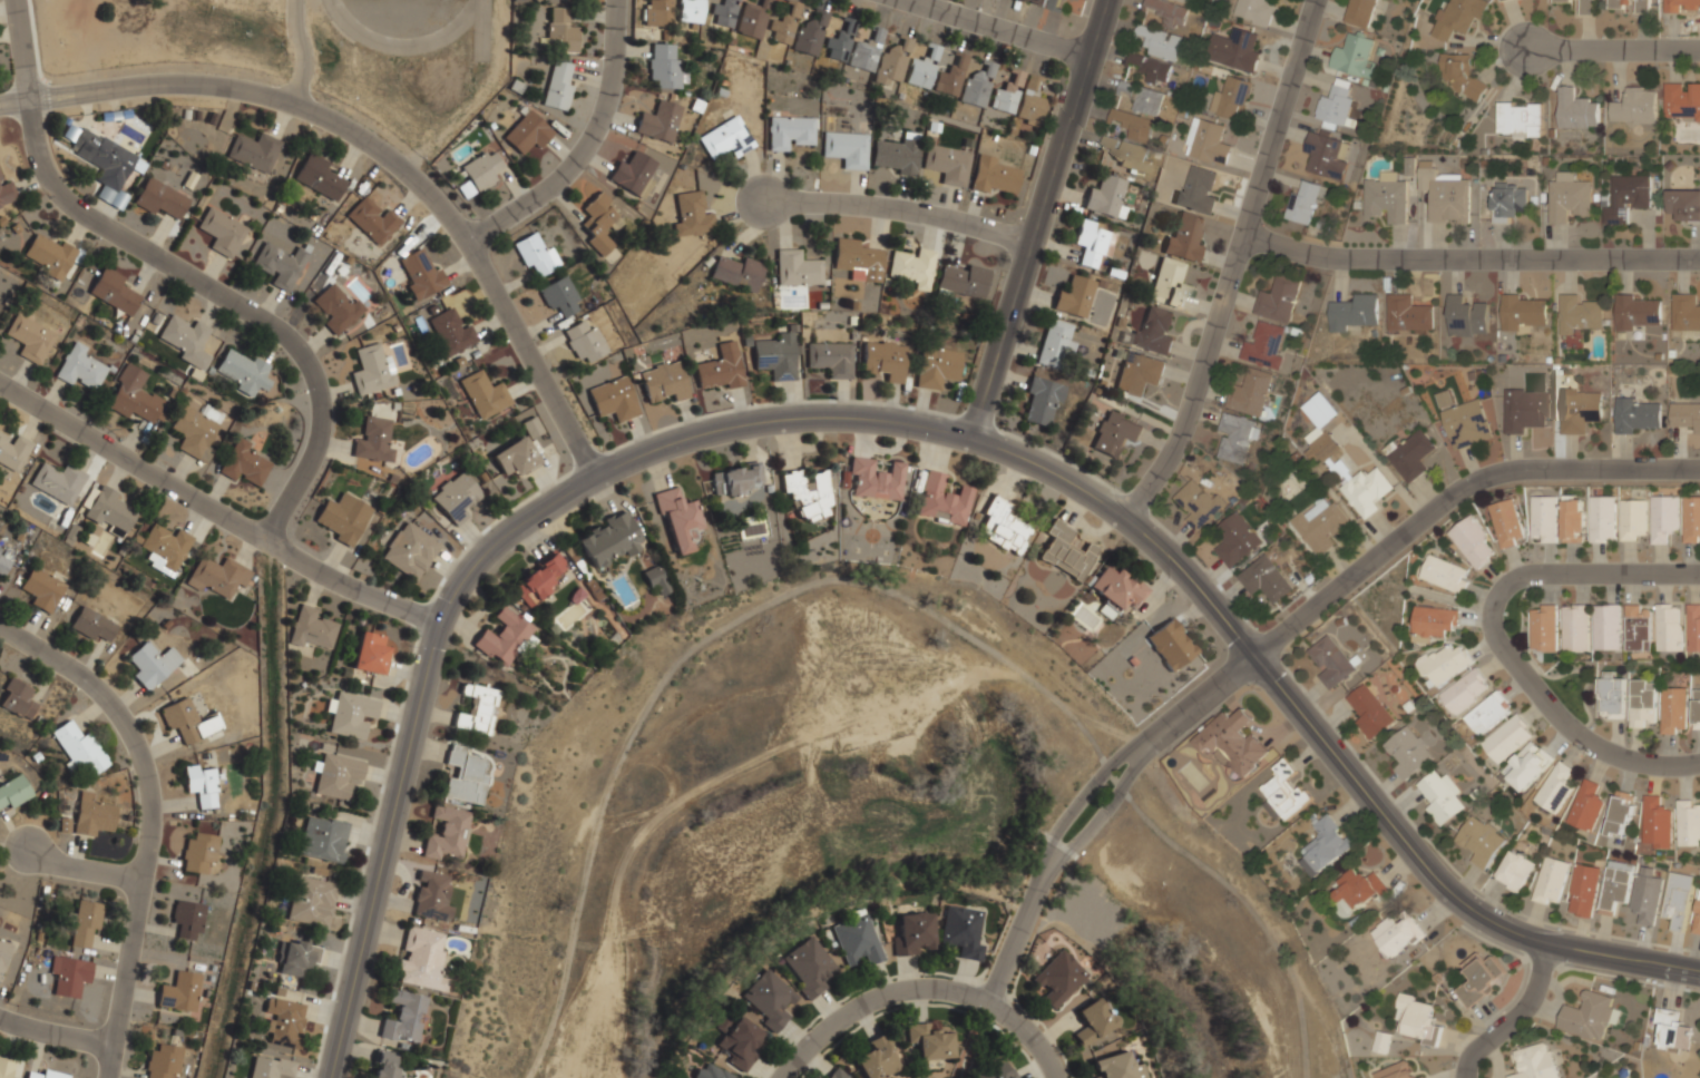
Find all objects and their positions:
building: (558, 0)
building: (1188, 1)
building: (1040, 2)
building: (1055, 4)
building: (1626, 6)
building: (1682, 7)
building: (1585, 9)
building: (691, 11)
building: (1256, 11)
building: (656, 12)
building: (1359, 12)
building: (724, 13)
park: (402, 14)
building: (1458, 17)
building: (750, 20)
building: (784, 24)
road: (1004, 29)
building: (1164, 29)
track: (355, 30)
building: (560, 31)
building: (811, 33)
building: (839, 43)
road: (301, 49)
road: (1612, 49)
building: (1239, 50)
building: (866, 51)
building: (1354, 55)
building: (892, 62)
building: (664, 66)
building: (1151, 67)
building: (920, 72)
building: (1460, 75)
building: (951, 77)
building: (559, 86)
building: (976, 87)
building: (1007, 92)
building: (1143, 97)
building: (1231, 99)
building: (1682, 100)
building: (1030, 101)
building: (1337, 106)
building: (1634, 106)
building: (1576, 109)
building: (1520, 119)
building: (658, 121)
building: (1134, 126)
building: (790, 131)
building: (69, 133)
building: (527, 133)
building: (726, 138)
building: (1209, 141)
road: (584, 144)
road: (381, 148)
building: (847, 149)
building: (254, 151)
building: (1126, 154)
building: (897, 155)
building: (1325, 155)
building: (102, 158)
building: (948, 164)
building: (481, 170)
building: (634, 173)
building: (996, 176)
building: (319, 177)
building: (1198, 190)
building: (7, 193)
building: (1445, 194)
building: (1567, 196)
building: (1387, 197)
building: (160, 198)
building: (1106, 198)
building: (1628, 198)
building: (1305, 199)
building: (1507, 202)
building: (1684, 204)
building: (692, 213)
road: (899, 214)
road: (1037, 219)
building: (373, 220)
building: (600, 224)
building: (222, 232)
building: (1185, 237)
building: (1094, 243)
building: (535, 254)
building: (49, 255)
building: (857, 261)
road: (1468, 261)
road: (1232, 264)
building: (280, 265)
building: (912, 267)
building: (795, 269)
road: (188, 271)
building: (421, 274)
building: (737, 274)
building: (964, 281)
building: (1169, 285)
building: (113, 292)
building: (559, 296)
building: (1075, 297)
building: (1279, 298)
building: (0, 304)
building: (336, 308)
building: (1354, 312)
building: (1638, 312)
building: (1686, 312)
building: (1524, 313)
building: (1577, 314)
building: (1407, 315)
building: (1465, 316)
building: (450, 332)
building: (1154, 332)
building: (30, 337)
building: (186, 340)
building: (584, 341)
building: (1054, 343)
building: (1264, 345)
building: (776, 357)
building: (832, 359)
building: (885, 361)
building: (80, 367)
building: (937, 367)
building: (372, 370)
building: (721, 370)
building: (244, 372)
building: (1140, 372)
building: (664, 382)
building: (1251, 393)
building: (483, 394)
building: (135, 396)
building: (613, 400)
building: (1042, 402)
building: (1579, 406)
building: (1321, 410)
building: (1523, 410)
building: (1638, 414)
building: (1686, 414)
building: (1464, 422)
road: (905, 427)
building: (1115, 435)
building: (1237, 435)
building: (373, 440)
building: (1325, 448)
building: (12, 450)
building: (1410, 454)
building: (516, 457)
building: (243, 463)
building: (876, 479)
building: (735, 480)
building: (58, 482)
building: (1367, 492)
building: (808, 493)
building: (456, 497)
building: (942, 500)
building: (1199, 504)
road: (216, 507)
building: (109, 511)
building: (1664, 517)
building: (343, 518)
building: (677, 518)
building: (1544, 519)
building: (1573, 519)
building: (1602, 519)
building: (1692, 519)
building: (1633, 520)
building: (1506, 523)
building: (1321, 525)
building: (1003, 526)
building: (610, 539)
building: (1237, 540)
road: (1389, 540)
building: (1473, 542)
building: (165, 548)
building: (0, 550)
building: (410, 550)
building: (1065, 551)
building: (3, 567)
building: (1445, 574)
building: (218, 577)
building: (655, 579)
building: (1267, 579)
building: (537, 580)
building: (1117, 588)
building: (41, 590)
building: (1106, 609)
building: (1434, 621)
building: (92, 623)
building: (1605, 627)
building: (1669, 627)
building: (1575, 628)
building: (1638, 628)
building: (1693, 628)
building: (311, 629)
building: (1543, 629)
building: (504, 636)
road: (1496, 639)
road: (704, 640)
building: (1171, 645)
building: (370, 654)
building: (1331, 660)
building: (1443, 664)
building: (152, 665)
building: (1465, 690)
building: (1610, 695)
building: (16, 699)
building: (1640, 702)
building: (1697, 708)
building: (477, 709)
building: (1369, 710)
building: (1672, 710)
building: (1489, 713)
building: (351, 714)
building: (186, 723)
building: (1507, 739)
building: (1232, 741)
building: (78, 752)
building: (1408, 753)
building: (35, 757)
building: (1527, 766)
building: (338, 776)
building: (465, 776)
building: (203, 784)
building: (1555, 788)
building: (1284, 790)
building: (14, 792)
building: (1442, 796)
road: (1079, 797)
building: (1586, 806)
road: (1100, 813)
building: (1622, 814)
building: (90, 815)
road: (152, 819)
building: (1657, 823)
building: (1689, 823)
building: (62, 826)
building: (447, 834)
building: (322, 839)
building: (1481, 840)
building: (1325, 845)
building: (198, 854)
road: (82, 865)
building: (1515, 871)
building: (1551, 881)
building: (1615, 885)
building: (1357, 890)
building: (1584, 890)
building: (1647, 894)
building: (432, 895)
road: (1239, 900)
building: (1678, 900)
building: (311, 901)
building: (188, 918)
building: (1697, 919)
building: (81, 922)
building: (963, 932)
road: (1016, 932)
building: (913, 933)
building: (858, 940)
building: (4, 955)
building: (296, 958)
building: (421, 959)
building: (810, 967)
building: (69, 976)
building: (1059, 978)
building: (1479, 978)
building: (178, 992)
road: (921, 993)
building: (771, 999)
building: (1590, 1015)
building: (404, 1016)
road: (1514, 1018)
building: (1417, 1019)
building: (284, 1021)
building: (1094, 1023)
building: (1673, 1031)
road: (56, 1033)
building: (740, 1042)
building: (929, 1042)
building: (879, 1059)
building: (1535, 1061)
building: (163, 1064)
building: (385, 1066)
building: (4, 1067)
building: (1114, 1067)
building: (271, 1068)
building: (998, 1071)
building: (1396, 1071)
building: (714, 1072)
building: (46, 1075)
building: (839, 1075)
building: (1423, 1077)

